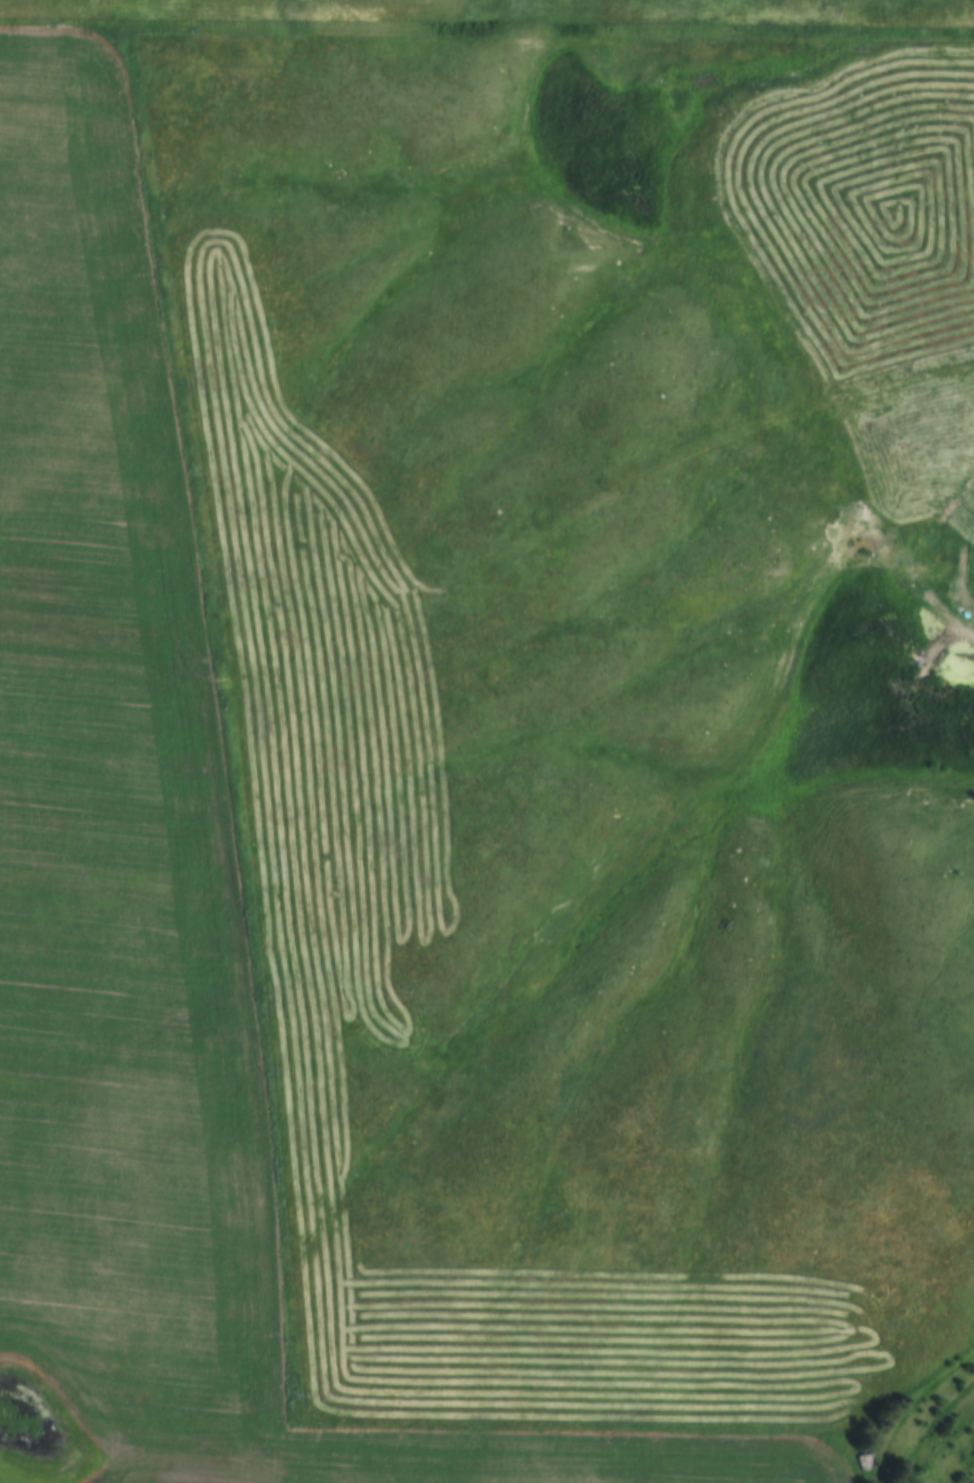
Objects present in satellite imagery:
road: (486, 33)
building: (865, 1462)

